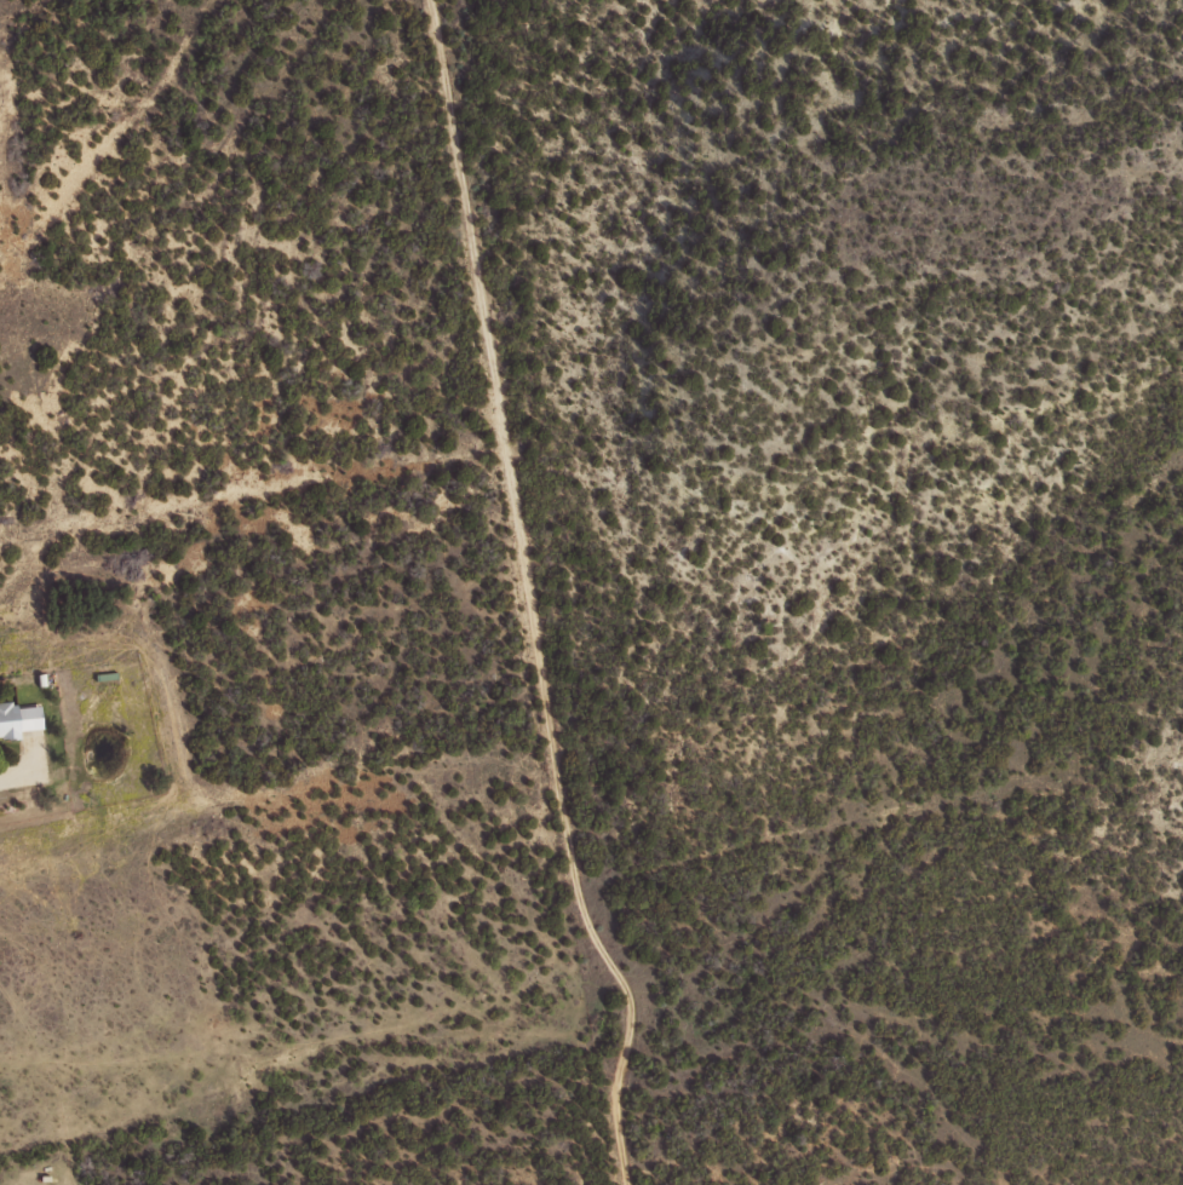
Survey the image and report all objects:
building: (17, 720)
road: (16, 776)

